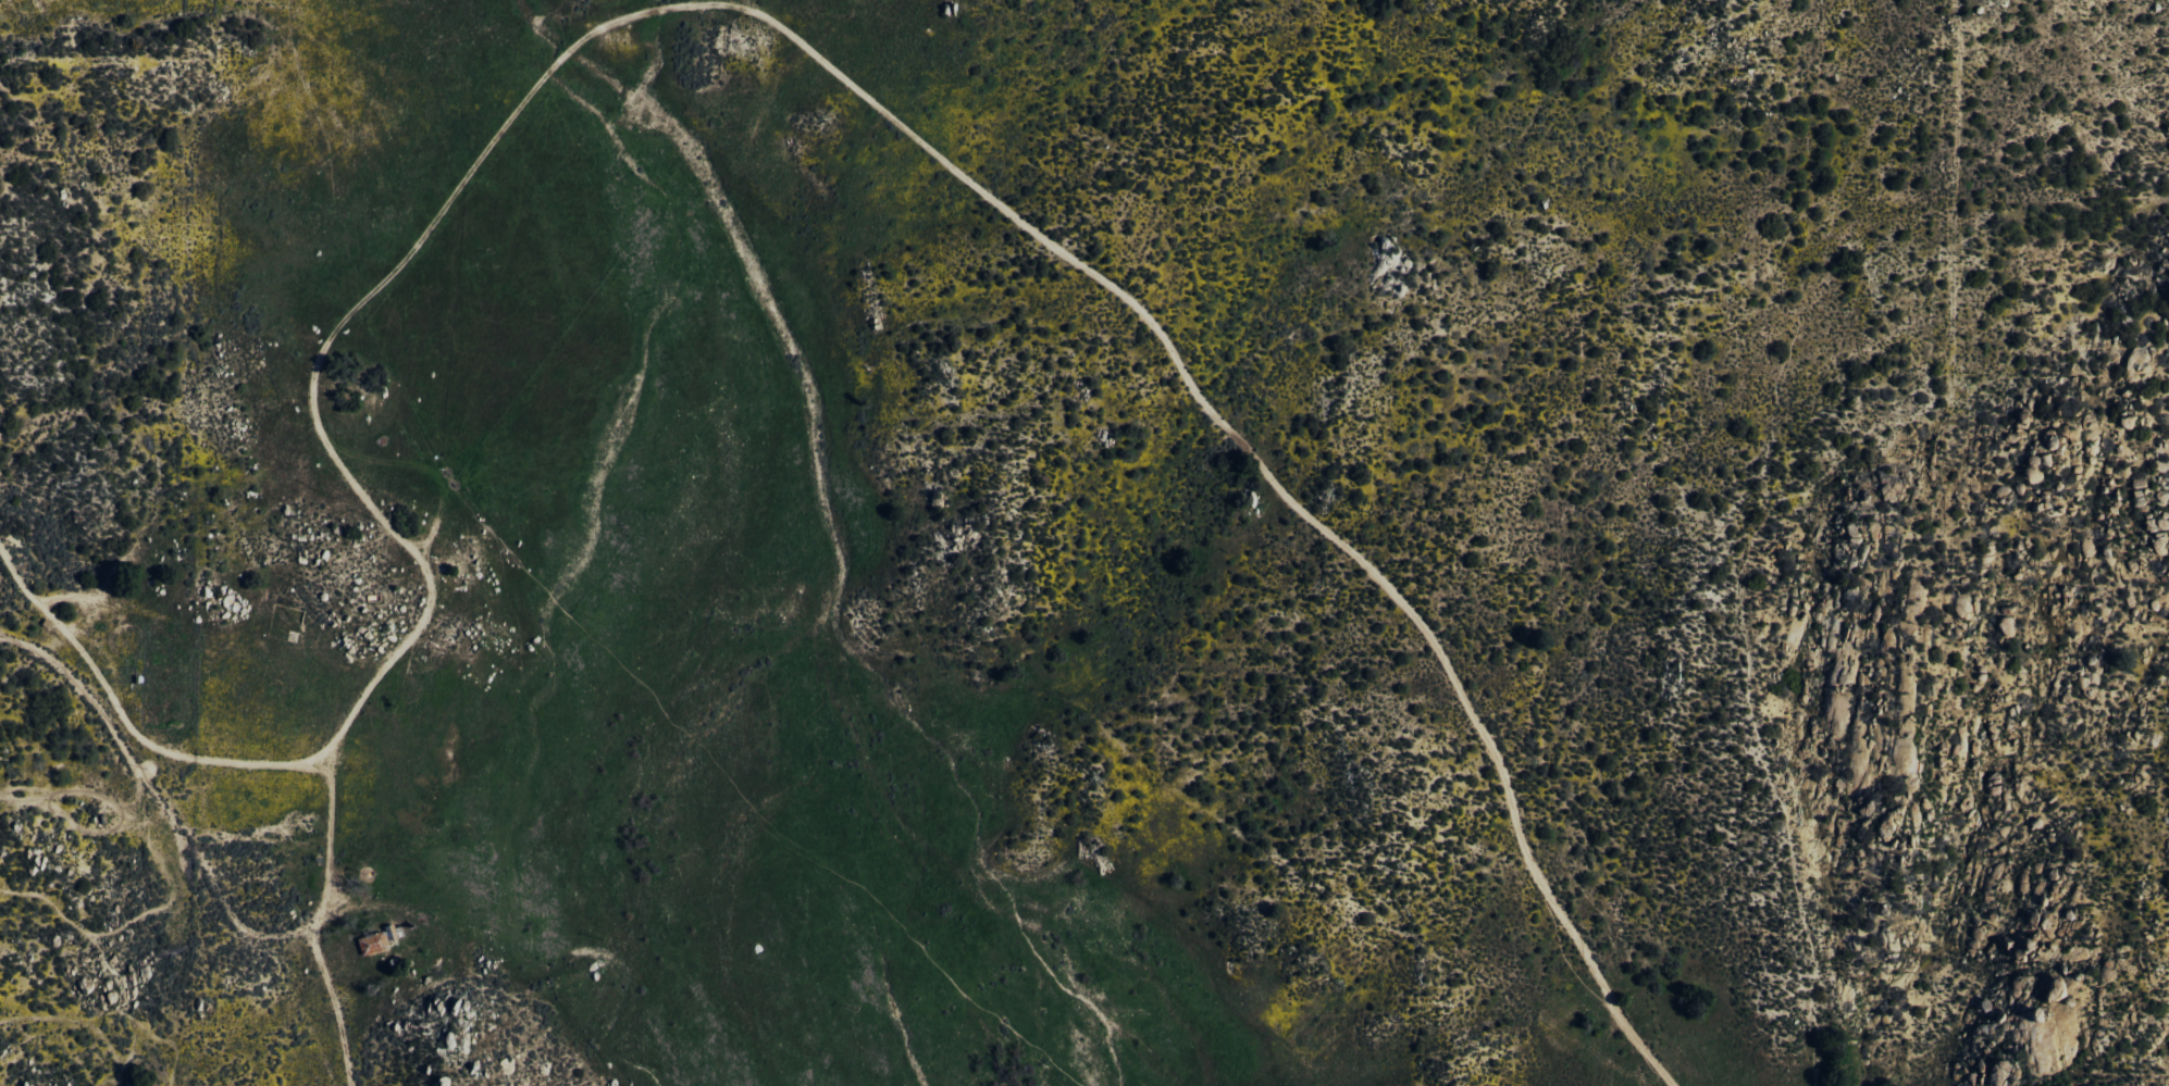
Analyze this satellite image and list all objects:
road: (197, 862)

